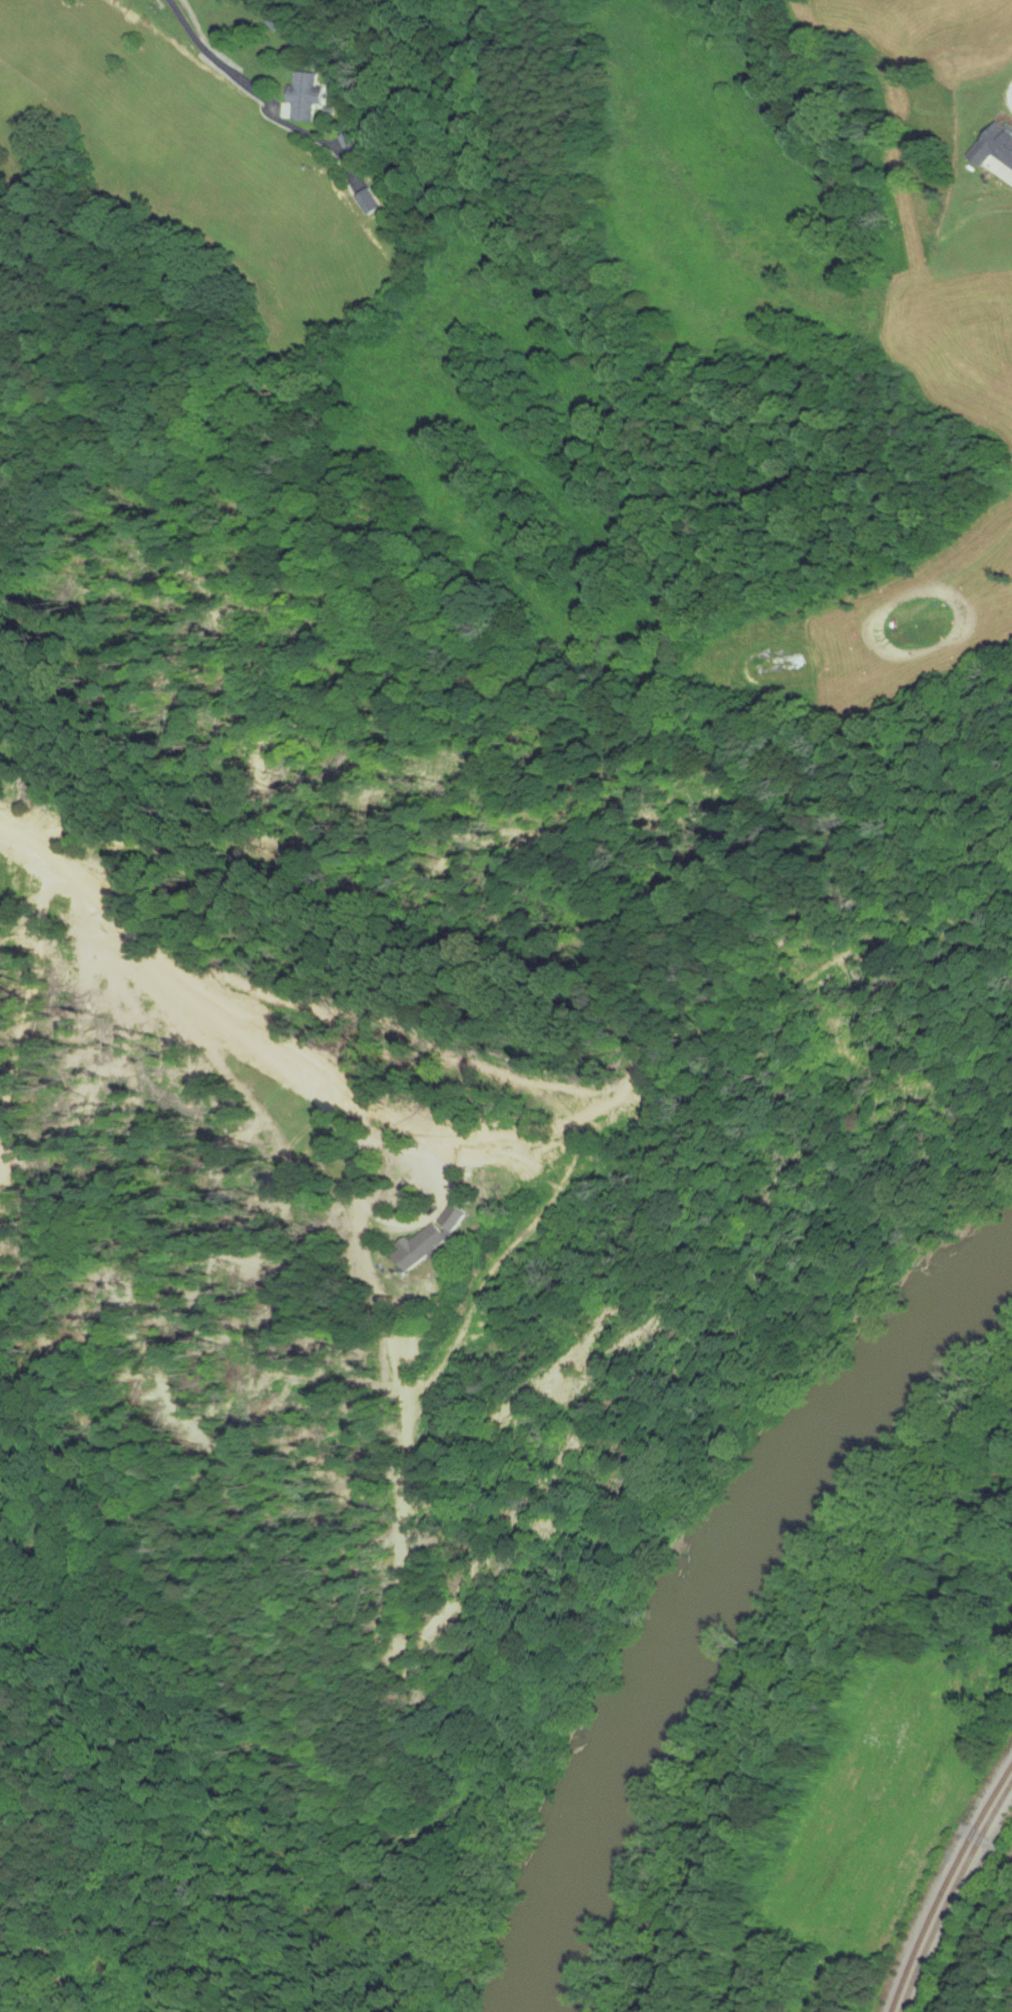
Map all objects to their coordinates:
building: (307, 96)
building: (369, 202)
road: (169, 986)
road: (410, 1225)
building: (437, 1238)
river: (698, 1608)
railway: (947, 1895)
road: (978, 1941)

